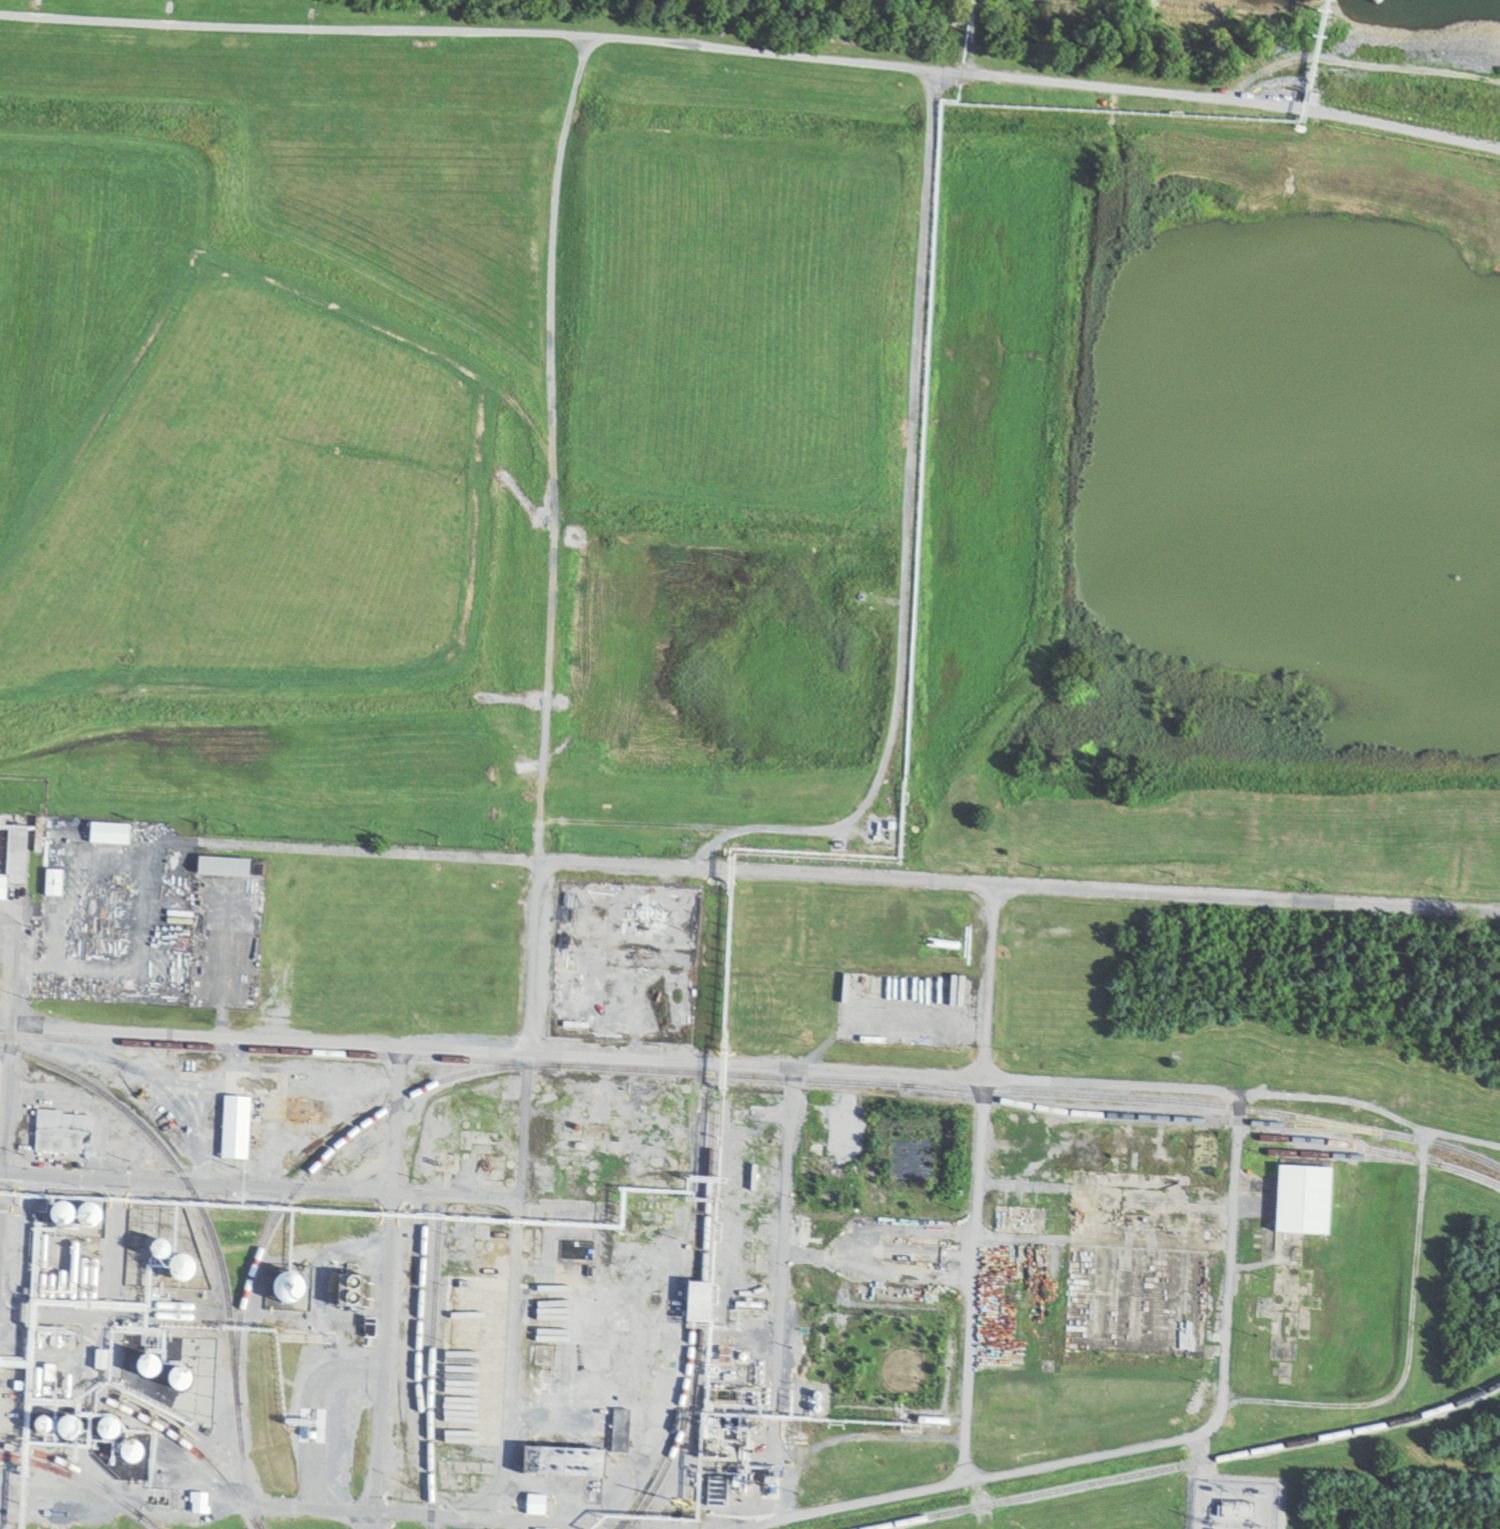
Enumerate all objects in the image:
road: (292, 29)
road: (631, 39)
road: (905, 539)
building: (107, 835)
building: (11, 858)
building: (221, 868)
road: (820, 876)
building: (942, 946)
road: (107, 972)
road: (400, 1049)
road: (7, 1064)
railway: (751, 1077)
railway: (1167, 1106)
building: (234, 1129)
building: (61, 1133)
building: (843, 1134)
railway: (1334, 1140)
railway: (1376, 1159)
railway: (320, 1160)
road: (975, 1184)
road: (257, 1187)
building: (1302, 1202)
building: (85, 1218)
building: (803, 1232)
railway: (210, 1238)
building: (158, 1252)
road: (511, 1264)
building: (180, 1270)
road: (1230, 1271)
road: (383, 1288)
building: (286, 1292)
building: (697, 1305)
road: (779, 1309)
railway: (690, 1319)
railway: (699, 1330)
railway: (417, 1344)
railway: (430, 1376)
building: (176, 1381)
building: (592, 1388)
building: (656, 1414)
building: (64, 1430)
building: (104, 1431)
building: (619, 1432)
railway: (186, 1447)
building: (128, 1454)
building: (561, 1464)
railway: (1184, 1465)
railway: (67, 1467)
railway: (80, 1483)
building: (715, 1493)
road: (249, 1506)
power substation: (1234, 1506)
building: (1236, 1510)

